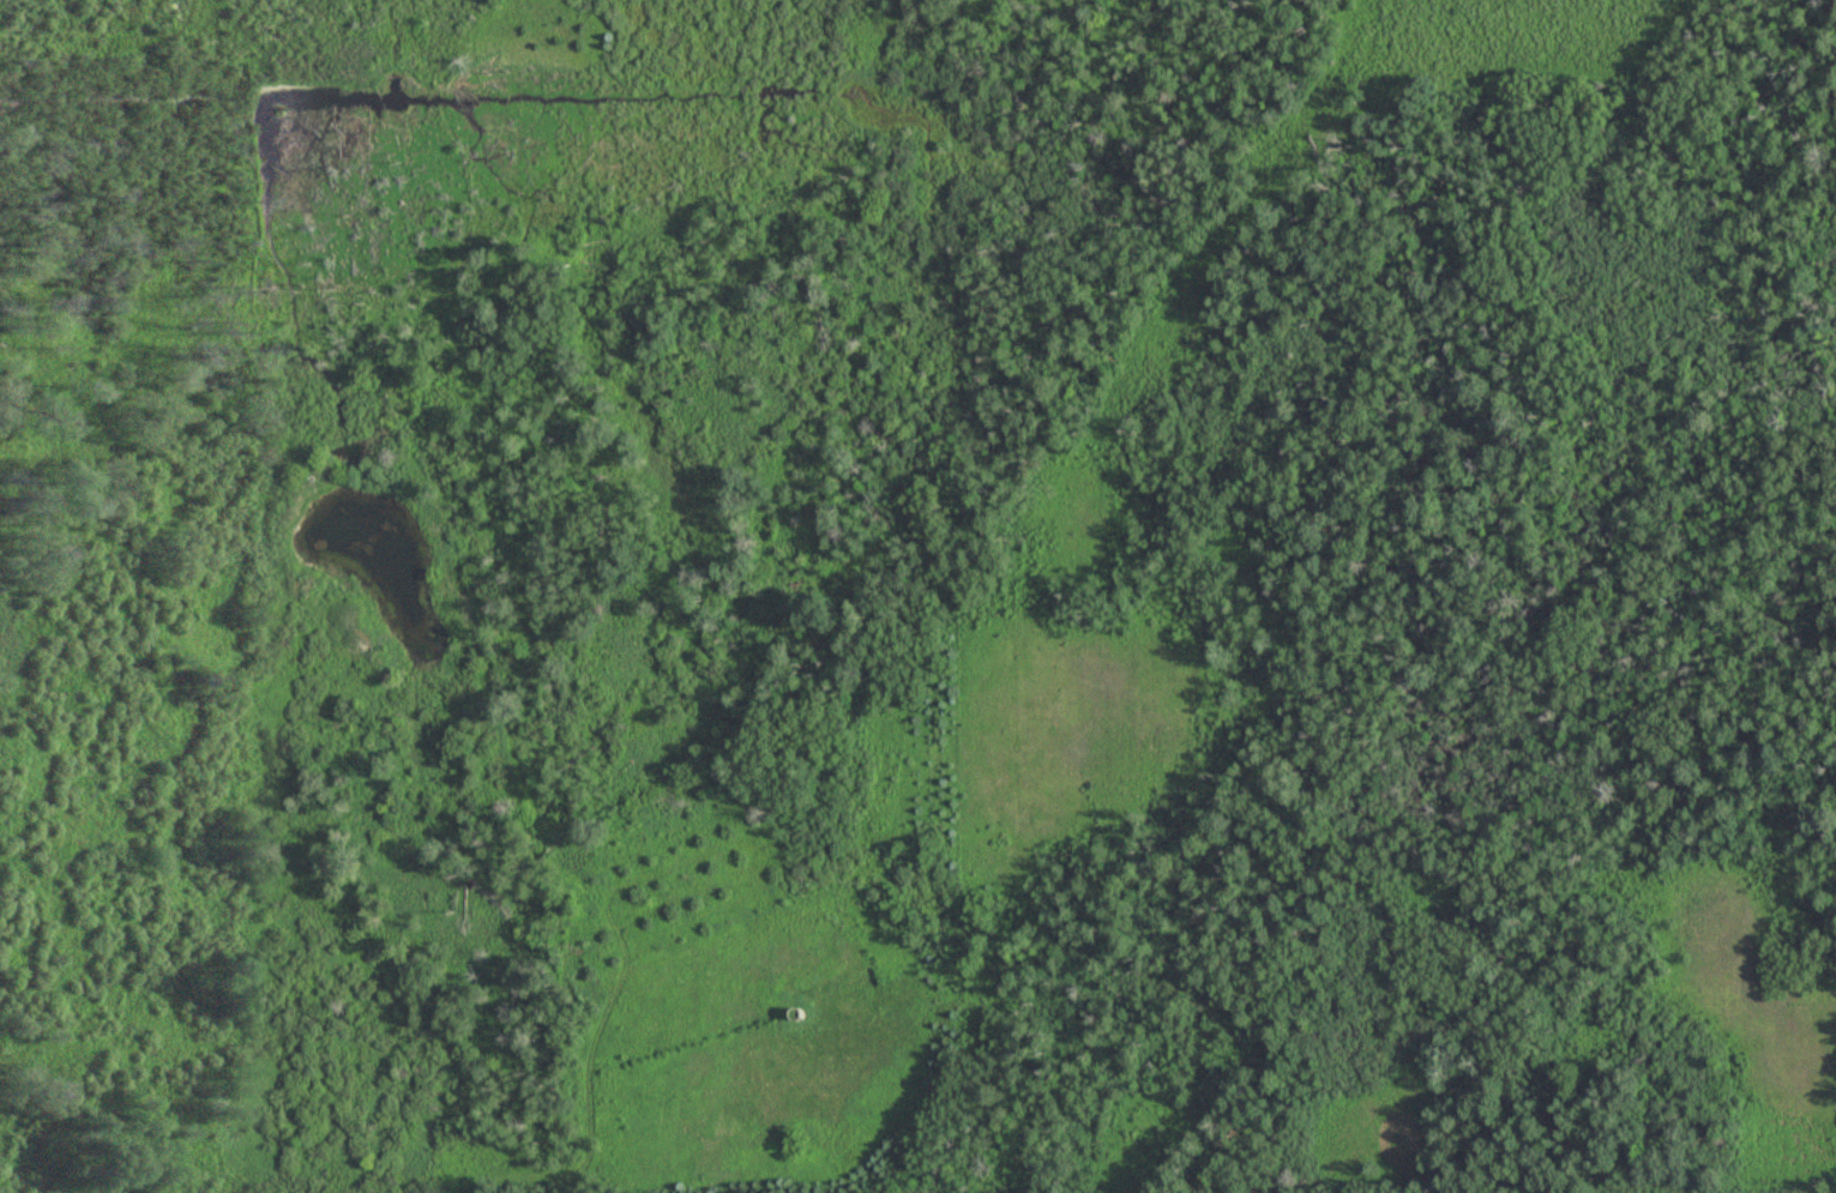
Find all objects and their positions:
road: (579, 861)

